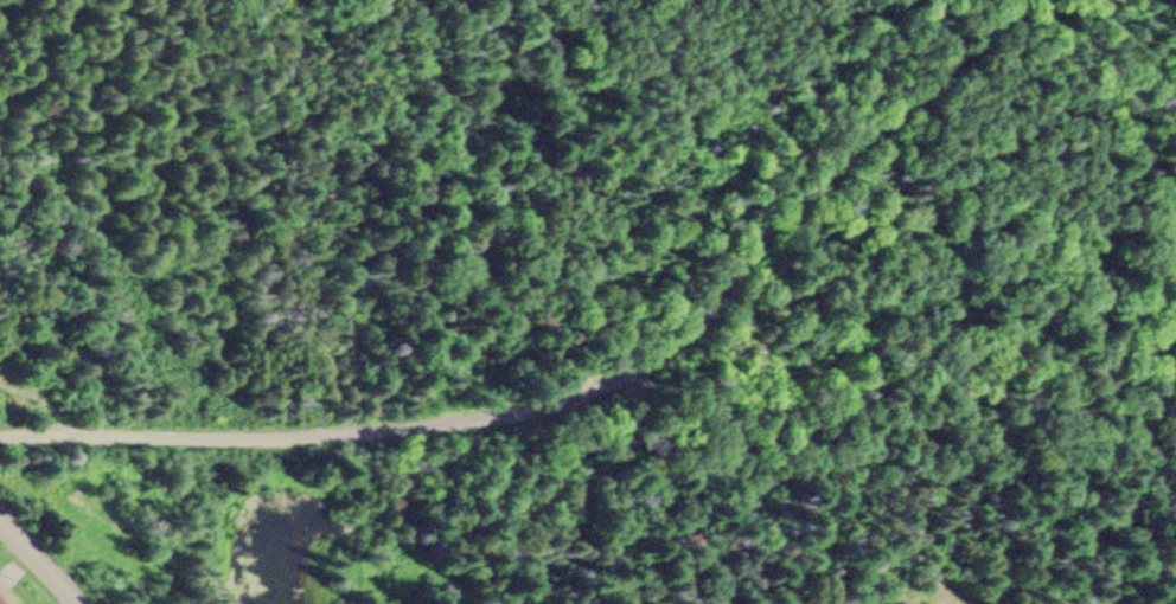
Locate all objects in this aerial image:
road: (573, 384)
road: (888, 392)
road: (41, 558)
building: (5, 595)

